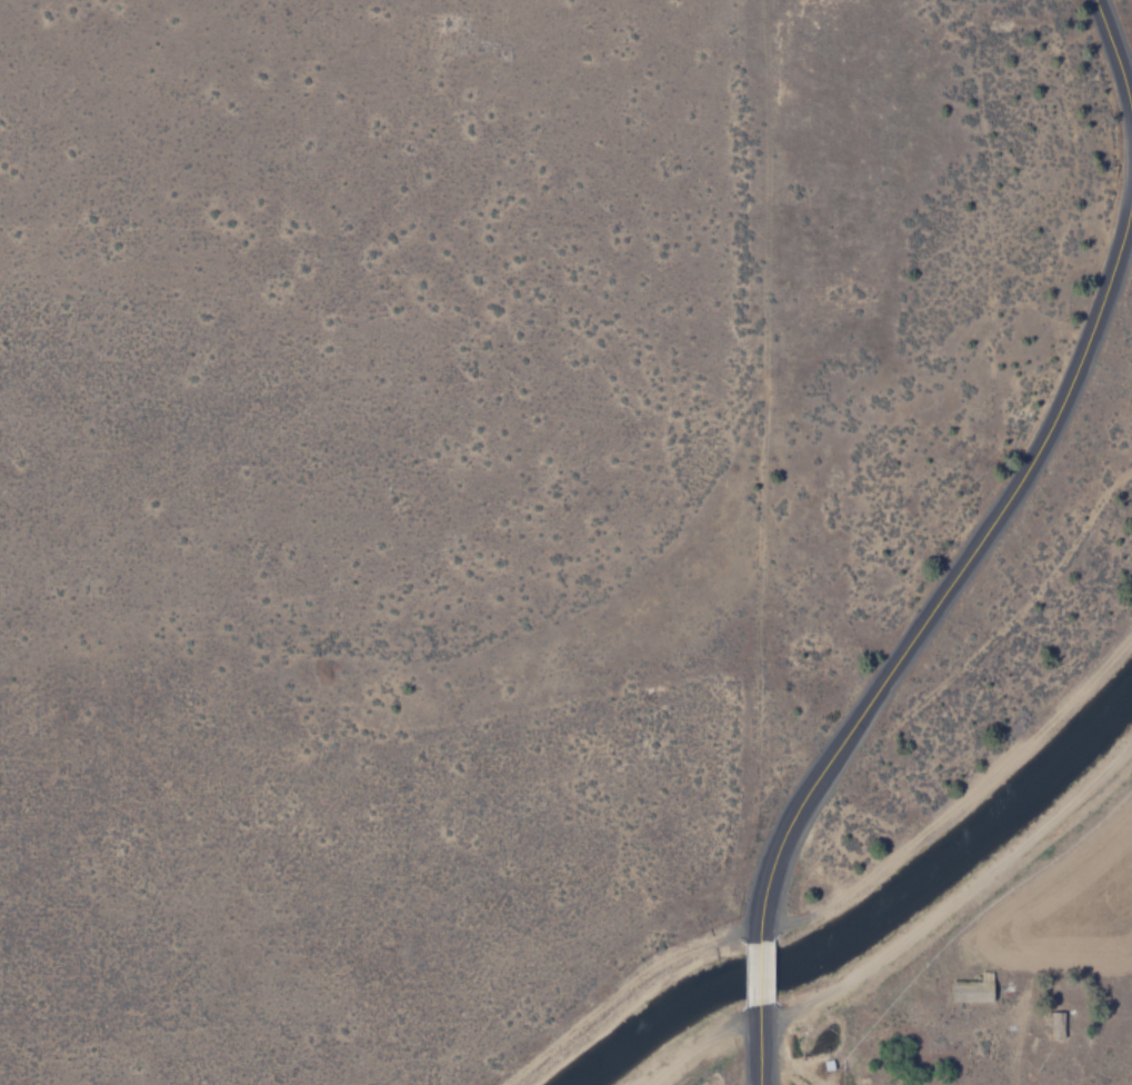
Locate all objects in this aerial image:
road: (1114, 63)
road: (959, 573)
road: (960, 905)
crop: (911, 938)
road: (758, 970)
road: (759, 1044)

